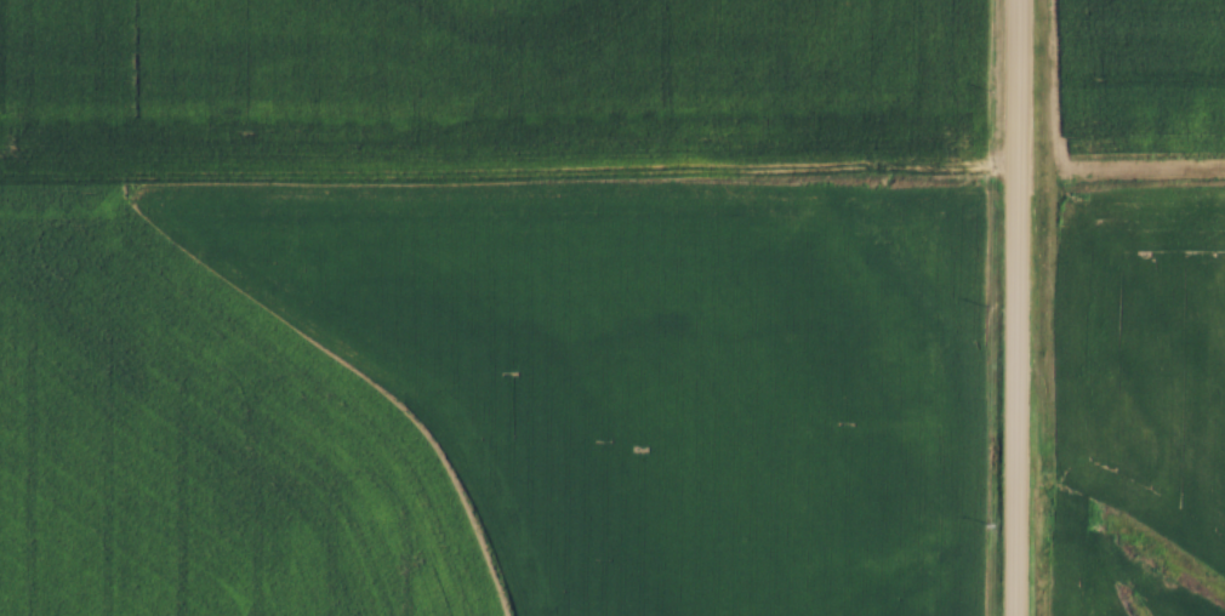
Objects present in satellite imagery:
road: (1018, 308)

